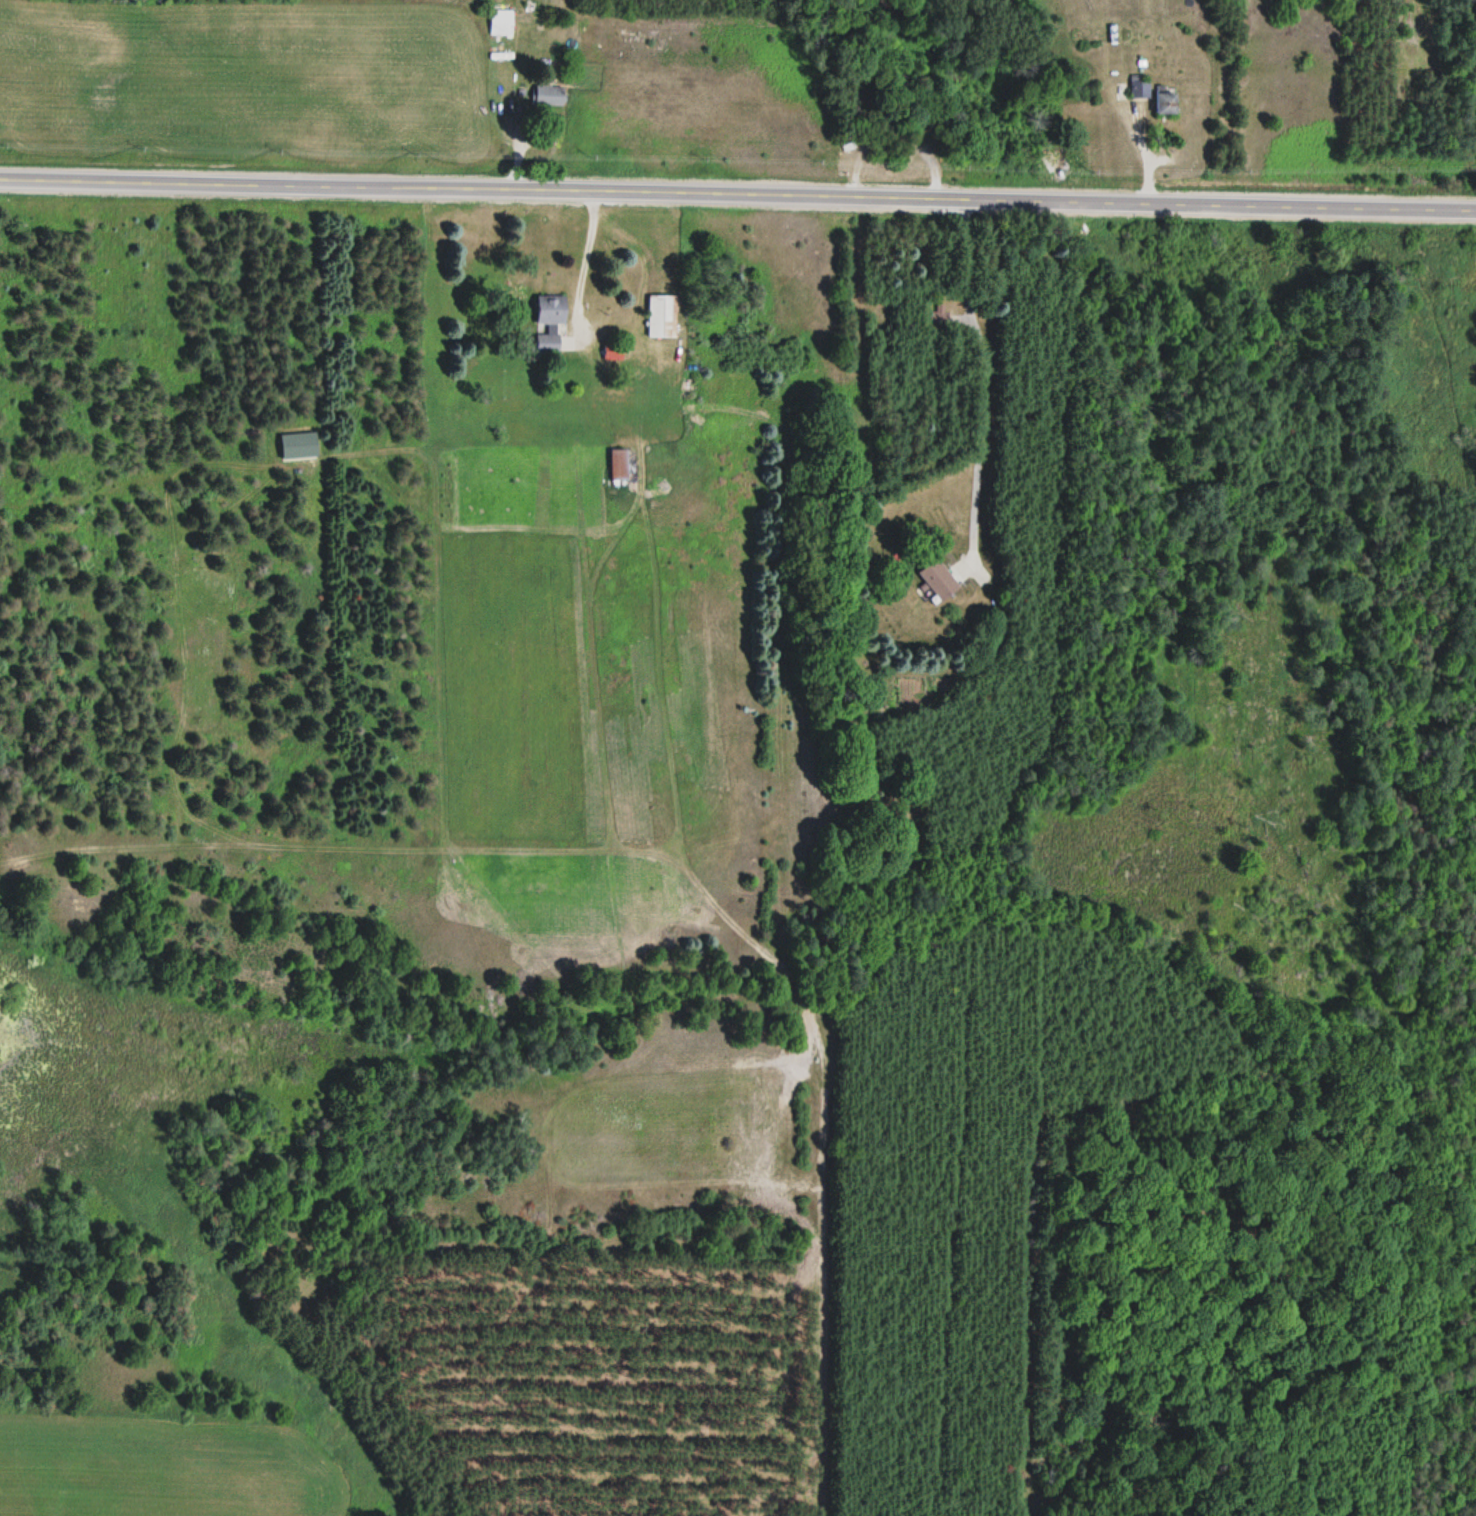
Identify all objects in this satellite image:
building: (501, 23)
building: (1139, 86)
building: (550, 96)
building: (1166, 101)
road: (738, 195)
building: (551, 312)
building: (662, 317)
building: (612, 353)
building: (619, 465)
building: (939, 581)

